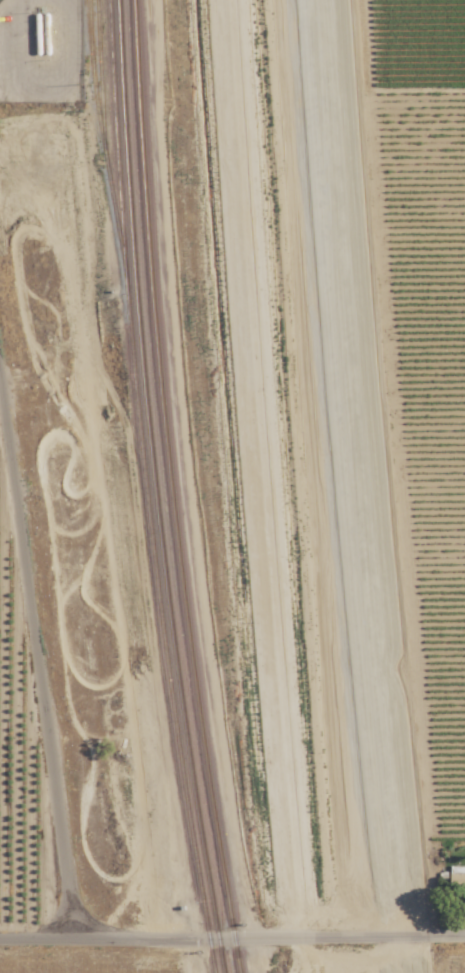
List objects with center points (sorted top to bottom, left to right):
railway: (99, 72)
railway: (101, 134)
railway: (262, 486)
railway: (273, 486)
railway: (319, 486)
railway: (345, 486)
railway: (297, 487)
railway: (146, 488)
railway: (155, 488)
railway: (171, 488)
road: (31, 677)
building: (458, 876)
road: (84, 933)
road: (443, 936)
crop: (83, 953)

